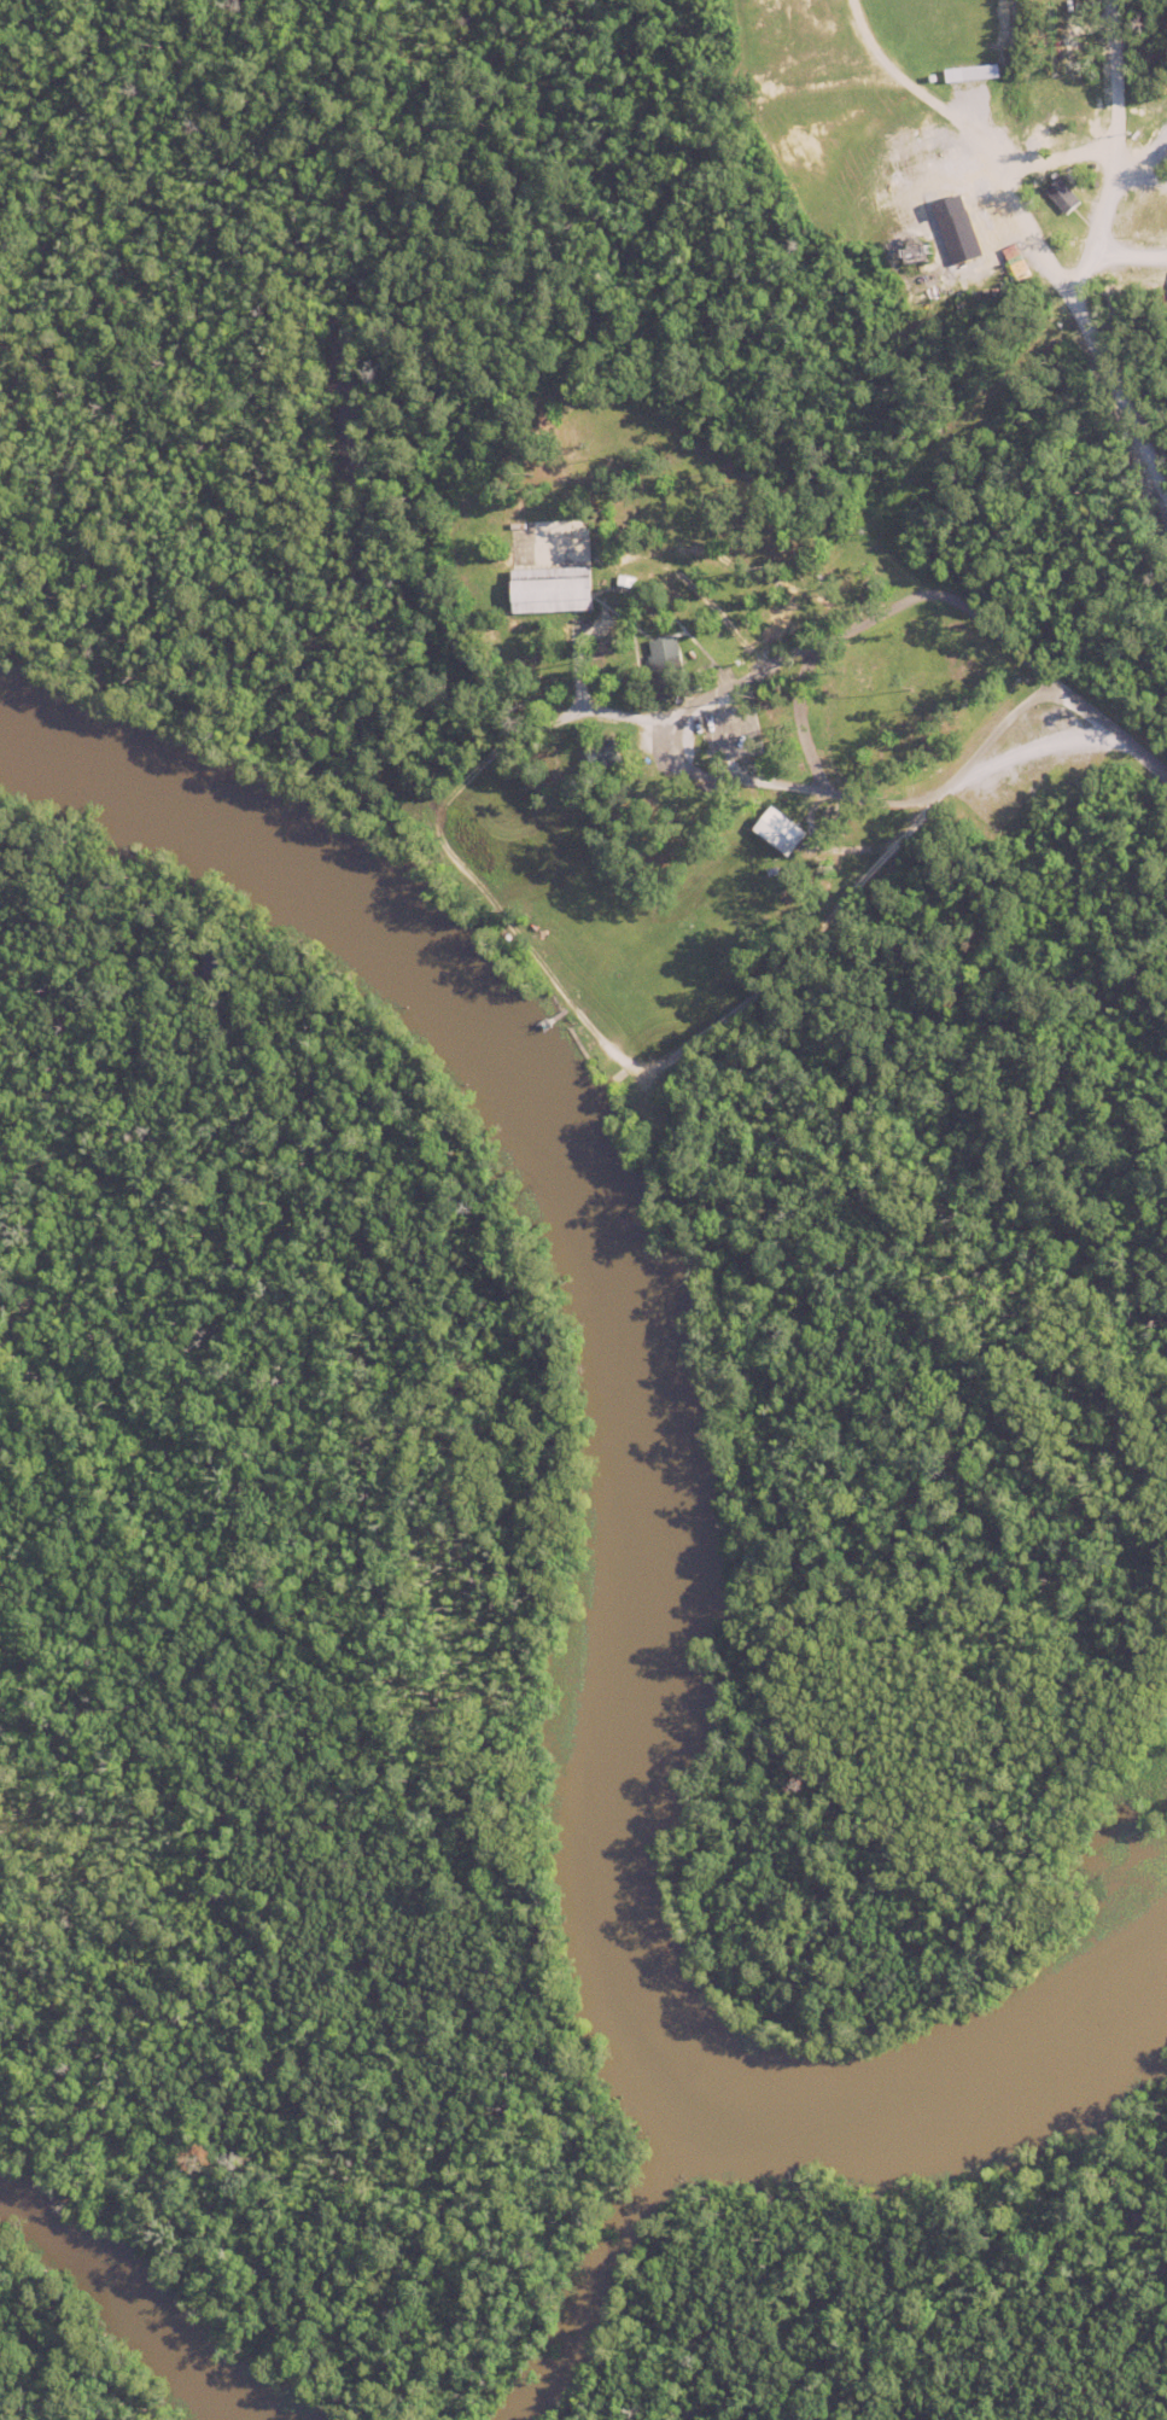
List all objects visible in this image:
building: (974, 71)
road: (1114, 151)
building: (1064, 194)
road: (1051, 266)
building: (519, 526)
building: (628, 579)
building: (554, 589)
building: (670, 670)
road: (1046, 686)
building: (605, 753)
building: (781, 830)
road: (472, 879)
river: (670, 1483)

